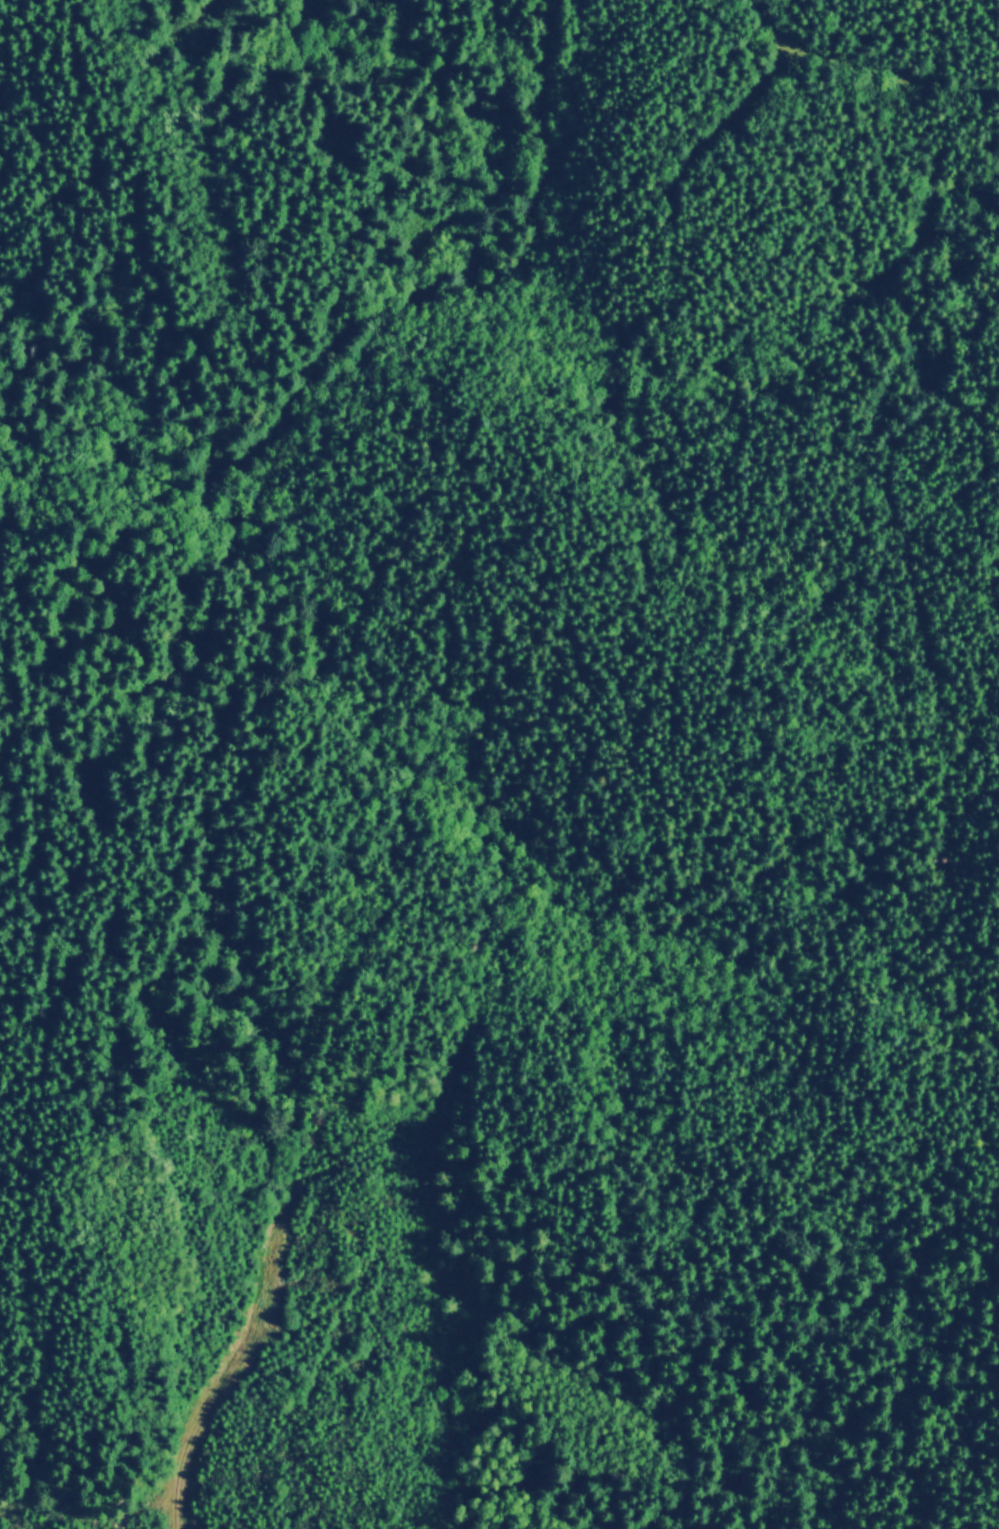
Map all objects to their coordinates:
road: (859, 76)
road: (706, 153)
road: (217, 206)
road: (351, 332)
road: (903, 478)
road: (271, 1233)

